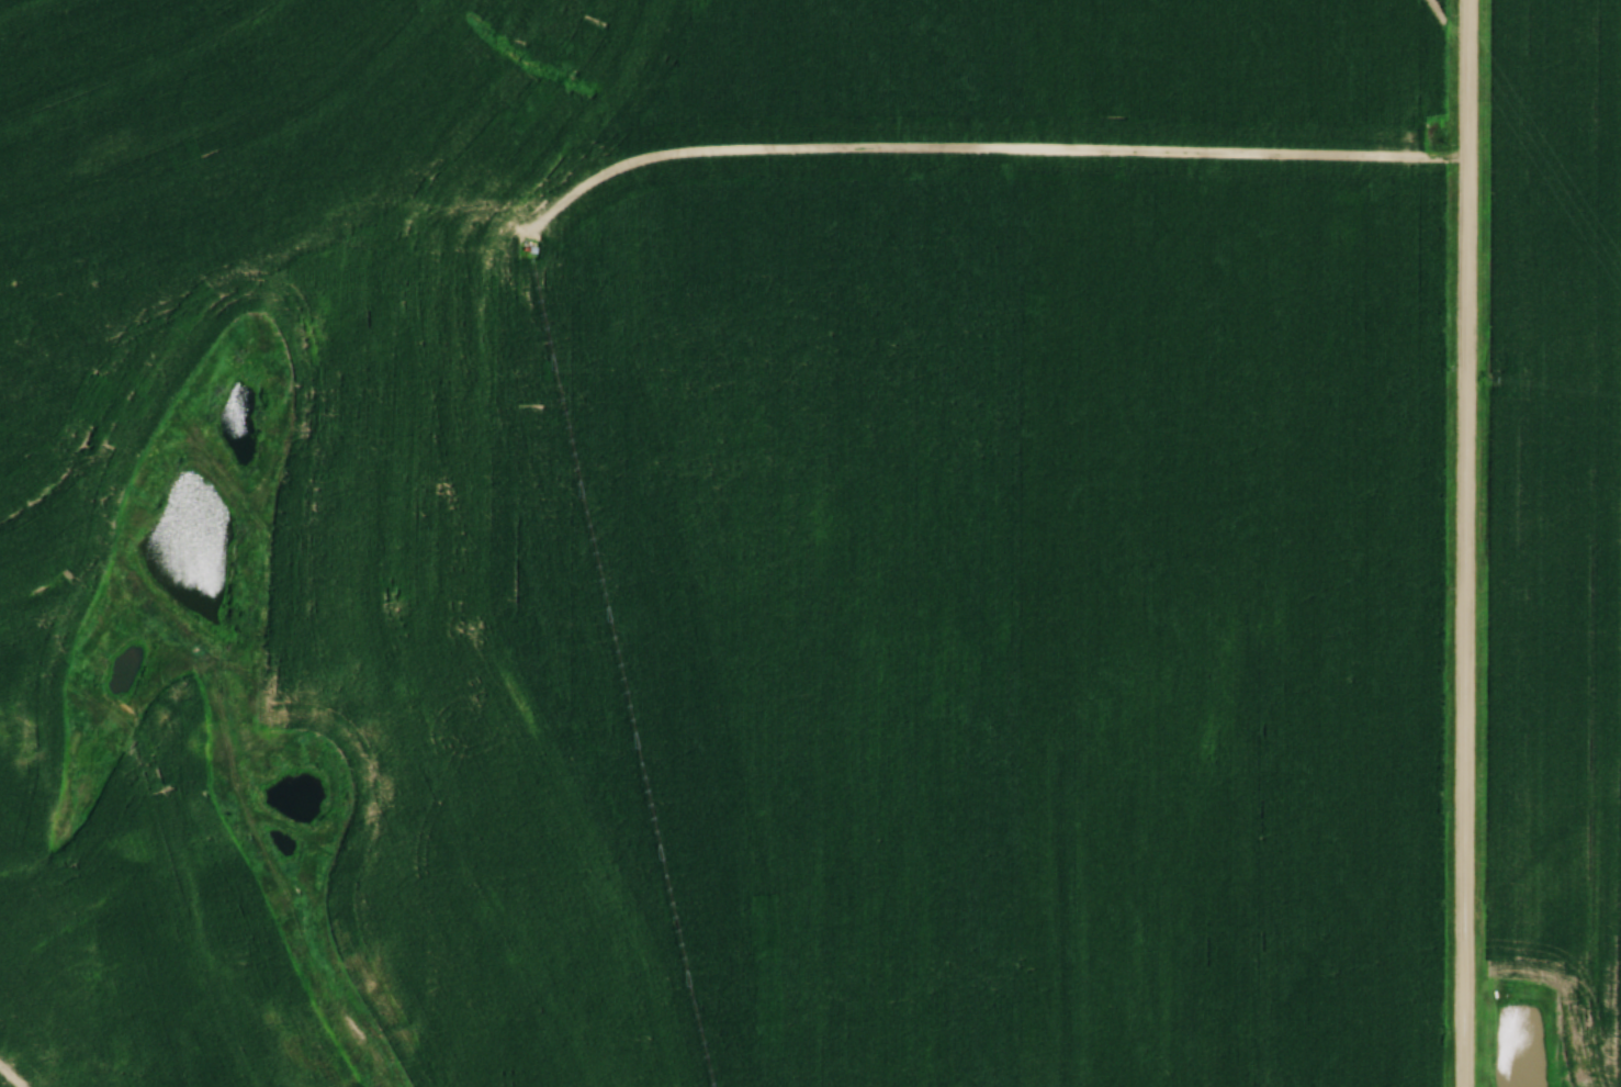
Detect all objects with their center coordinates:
road: (1465, 542)

